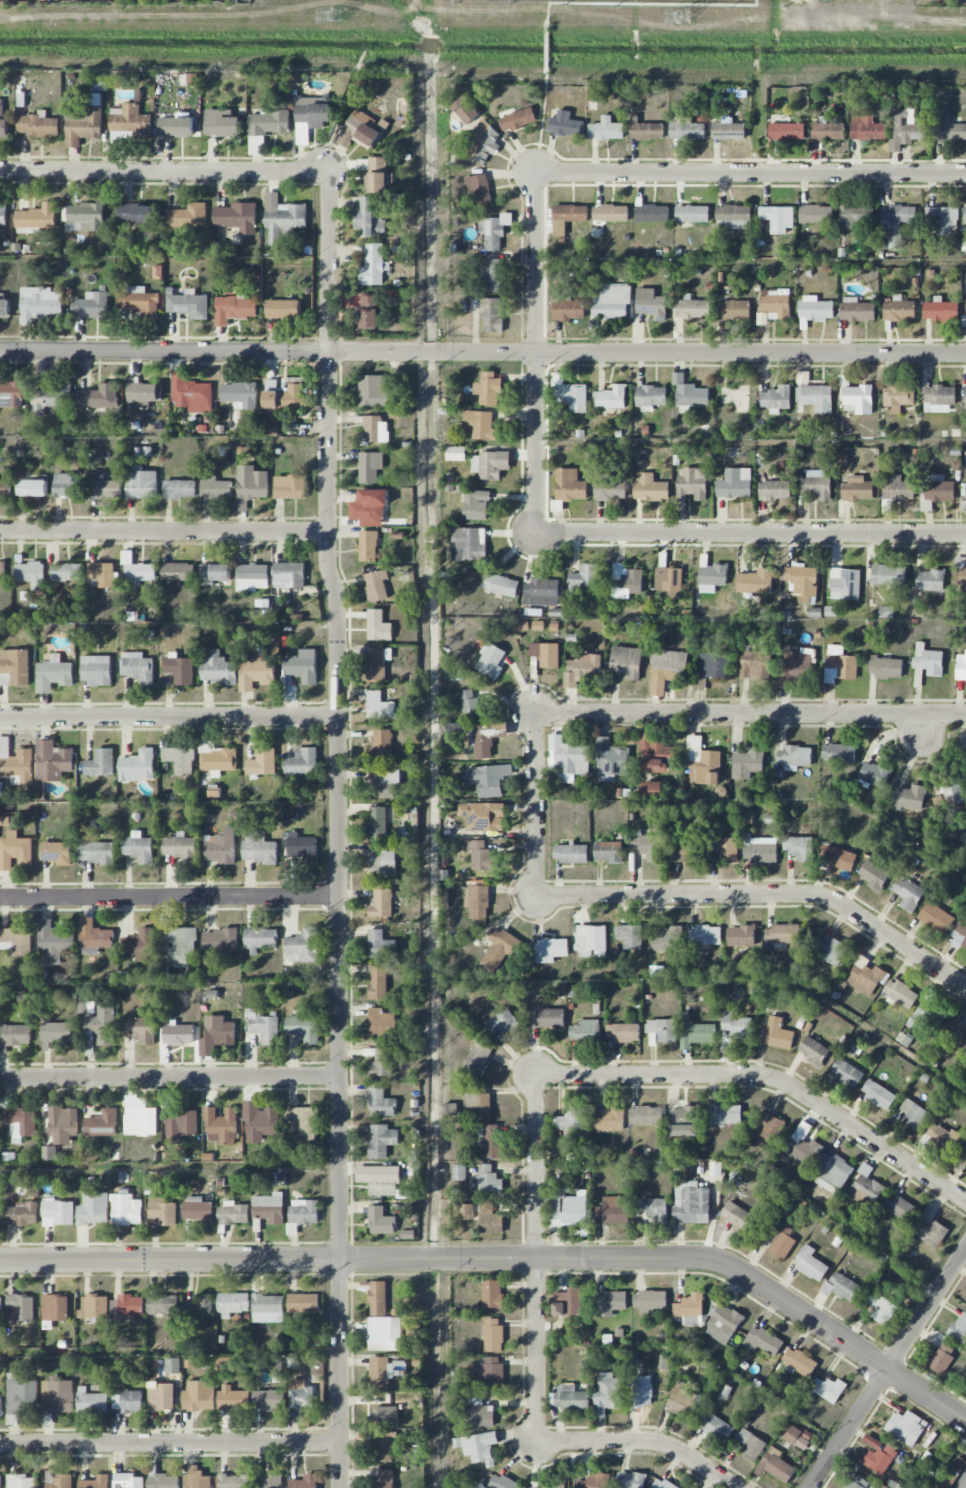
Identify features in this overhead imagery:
road: (645, 3)
power tower: (686, 14)
power tower: (338, 15)
road: (547, 47)
building: (466, 110)
building: (311, 114)
building: (518, 119)
building: (84, 121)
building: (269, 122)
road: (541, 122)
building: (3, 123)
building: (129, 123)
building: (222, 123)
building: (565, 124)
building: (38, 125)
building: (176, 127)
building: (867, 128)
building: (906, 128)
building: (685, 129)
building: (949, 129)
building: (358, 130)
building: (645, 130)
building: (728, 130)
building: (604, 131)
building: (787, 131)
building: (828, 131)
building: (483, 143)
road: (166, 169)
road: (749, 172)
building: (377, 175)
building: (479, 191)
building: (3, 213)
building: (610, 213)
building: (652, 213)
building: (135, 214)
building: (692, 214)
building: (816, 214)
building: (855, 214)
building: (965, 214)
building: (186, 216)
building: (85, 217)
building: (371, 217)
building: (568, 217)
building: (733, 217)
building: (36, 218)
building: (236, 218)
building: (282, 218)
building: (778, 218)
building: (942, 220)
building: (896, 222)
building: (494, 230)
building: (373, 265)
building: (492, 275)
building: (612, 301)
building: (140, 302)
building: (41, 304)
building: (188, 304)
building: (651, 304)
building: (4, 305)
building: (774, 306)
building: (692, 308)
building: (234, 309)
building: (283, 309)
building: (899, 309)
building: (569, 310)
building: (734, 310)
building: (815, 310)
building: (857, 310)
building: (941, 310)
building: (369, 312)
building: (492, 315)
building: (964, 321)
road: (482, 352)
road: (532, 353)
building: (802, 377)
building: (488, 389)
building: (375, 390)
building: (144, 392)
building: (689, 392)
building: (191, 393)
building: (570, 394)
building: (11, 395)
building: (239, 395)
building: (99, 396)
building: (51, 397)
building: (612, 397)
building: (651, 397)
building: (815, 397)
building: (898, 397)
building: (285, 398)
building: (777, 398)
building: (858, 399)
building: (939, 399)
building: (965, 402)
building: (480, 425)
building: (375, 429)
building: (62, 453)
building: (456, 453)
building: (489, 464)
building: (370, 466)
building: (693, 483)
building: (735, 483)
building: (141, 484)
building: (817, 484)
building: (250, 485)
building: (569, 485)
building: (68, 486)
building: (290, 487)
building: (5, 488)
building: (32, 488)
building: (104, 488)
building: (215, 488)
building: (650, 488)
building: (898, 488)
building: (179, 489)
building: (610, 489)
building: (857, 489)
building: (939, 489)
building: (964, 501)
building: (373, 503)
building: (476, 505)
building: (556, 506)
road: (164, 533)
road: (749, 534)
building: (468, 543)
building: (368, 546)
building: (138, 570)
building: (66, 572)
building: (177, 572)
building: (213, 573)
building: (2, 574)
building: (30, 574)
building: (289, 574)
building: (101, 575)
building: (888, 575)
building: (711, 576)
building: (252, 577)
building: (586, 577)
building: (961, 578)
building: (668, 579)
building: (930, 580)
building: (626, 581)
building: (755, 581)
building: (803, 581)
building: (845, 584)
building: (376, 585)
building: (500, 585)
building: (541, 592)
building: (378, 626)
building: (545, 654)
building: (490, 660)
building: (928, 660)
building: (627, 662)
building: (377, 664)
building: (839, 664)
building: (713, 665)
building: (755, 665)
building: (303, 666)
building: (796, 666)
building: (14, 667)
building: (137, 667)
building: (886, 667)
building: (961, 667)
building: (218, 668)
building: (179, 669)
building: (667, 669)
building: (255, 670)
building: (582, 670)
building: (96, 671)
building: (53, 674)
building: (379, 706)
building: (473, 706)
road: (750, 712)
road: (169, 716)
road: (921, 726)
building: (485, 738)
building: (380, 743)
building: (655, 745)
building: (838, 753)
building: (794, 757)
building: (217, 758)
building: (180, 759)
building: (567, 759)
building: (965, 760)
building: (52, 761)
building: (610, 761)
building: (262, 762)
building: (702, 762)
building: (15, 763)
building: (100, 763)
building: (301, 763)
building: (748, 763)
building: (137, 766)
building: (655, 766)
building: (875, 774)
building: (489, 779)
building: (383, 783)
building: (652, 789)
building: (676, 792)
building: (909, 798)
road: (534, 803)
building: (483, 816)
building: (4, 821)
building: (377, 823)
road: (339, 828)
building: (302, 846)
building: (649, 846)
building: (220, 847)
building: (139, 848)
building: (181, 848)
building: (259, 848)
building: (801, 848)
building: (15, 850)
building: (728, 850)
building: (608, 851)
building: (57, 852)
building: (96, 852)
building: (685, 852)
building: (759, 852)
building: (571, 853)
building: (481, 856)
building: (838, 858)
building: (382, 862)
building: (874, 875)
building: (908, 893)
road: (763, 894)
road: (170, 898)
building: (478, 899)
building: (382, 904)
building: (936, 917)
building: (787, 934)
building: (960, 934)
building: (705, 935)
building: (630, 936)
building: (741, 936)
building: (94, 937)
building: (260, 939)
building: (668, 939)
building: (16, 941)
building: (54, 941)
building: (591, 941)
building: (219, 943)
building: (141, 944)
building: (178, 944)
building: (380, 945)
building: (302, 947)
building: (500, 949)
building: (550, 950)
building: (829, 950)
building: (865, 976)
building: (378, 982)
building: (899, 993)
building: (928, 1016)
building: (549, 1018)
building: (381, 1023)
building: (502, 1024)
building: (103, 1025)
building: (263, 1027)
building: (303, 1028)
building: (738, 1028)
building: (139, 1029)
building: (663, 1029)
building: (220, 1030)
building: (585, 1031)
building: (622, 1032)
building: (56, 1034)
building: (178, 1034)
building: (775, 1034)
building: (697, 1035)
building: (959, 1035)
building: (14, 1036)
building: (813, 1050)
building: (478, 1058)
building: (382, 1063)
building: (847, 1074)
road: (170, 1077)
road: (767, 1077)
building: (878, 1094)
building: (381, 1103)
building: (479, 1105)
building: (724, 1115)
building: (914, 1115)
building: (646, 1116)
building: (140, 1117)
building: (571, 1119)
building: (305, 1120)
building: (611, 1120)
building: (685, 1121)
building: (260, 1122)
building: (20, 1123)
building: (102, 1123)
building: (181, 1124)
building: (221, 1124)
building: (64, 1125)
building: (769, 1127)
building: (942, 1137)
building: (381, 1140)
building: (491, 1140)
building: (801, 1147)
building: (48, 1152)
building: (963, 1156)
building: (413, 1168)
building: (833, 1173)
building: (384, 1180)
building: (489, 1180)
building: (865, 1188)
building: (692, 1203)
building: (654, 1208)
building: (93, 1209)
building: (126, 1209)
building: (198, 1209)
building: (269, 1209)
building: (569, 1210)
building: (615, 1210)
building: (0, 1211)
building: (466, 1211)
building: (162, 1212)
building: (58, 1213)
building: (233, 1213)
building: (22, 1214)
building: (302, 1214)
building: (739, 1218)
building: (912, 1218)
building: (490, 1219)
building: (381, 1221)
building: (783, 1243)
road: (536, 1257)
road: (507, 1259)
building: (810, 1263)
building: (841, 1286)
building: (492, 1294)
building: (378, 1298)
building: (650, 1301)
building: (568, 1302)
building: (163, 1303)
building: (304, 1303)
building: (608, 1303)
building: (1, 1304)
building: (233, 1304)
building: (127, 1305)
building: (200, 1305)
building: (94, 1307)
building: (20, 1308)
building: (55, 1308)
building: (268, 1308)
building: (881, 1308)
building: (690, 1309)
building: (724, 1324)
building: (959, 1328)
building: (385, 1333)
building: (493, 1335)
building: (762, 1341)
building: (942, 1358)
building: (799, 1362)
building: (172, 1365)
road: (887, 1368)
building: (381, 1371)
building: (493, 1374)
building: (828, 1389)
building: (607, 1392)
building: (646, 1395)
building: (160, 1396)
building: (199, 1396)
building: (570, 1396)
building: (57, 1397)
building: (301, 1398)
building: (233, 1400)
building: (269, 1400)
building: (684, 1400)
building: (92, 1401)
building: (128, 1401)
building: (1, 1404)
building: (482, 1415)
building: (385, 1416)
building: (716, 1426)
building: (906, 1427)
building: (795, 1437)
road: (642, 1441)
road: (171, 1443)
building: (750, 1444)
building: (384, 1446)
building: (478, 1447)
building: (878, 1454)
building: (775, 1465)
building: (197, 1478)
building: (383, 1478)
building: (162, 1479)
building: (630, 1480)
building: (20, 1481)
building: (59, 1481)
building: (128, 1481)
building: (234, 1481)
building: (272, 1481)
building: (595, 1481)
building: (0, 1482)
building: (95, 1482)
building: (304, 1482)
building: (503, 1482)
building: (856, 1482)
road: (961, 1482)
building: (662, 1483)
building: (550, 1486)

